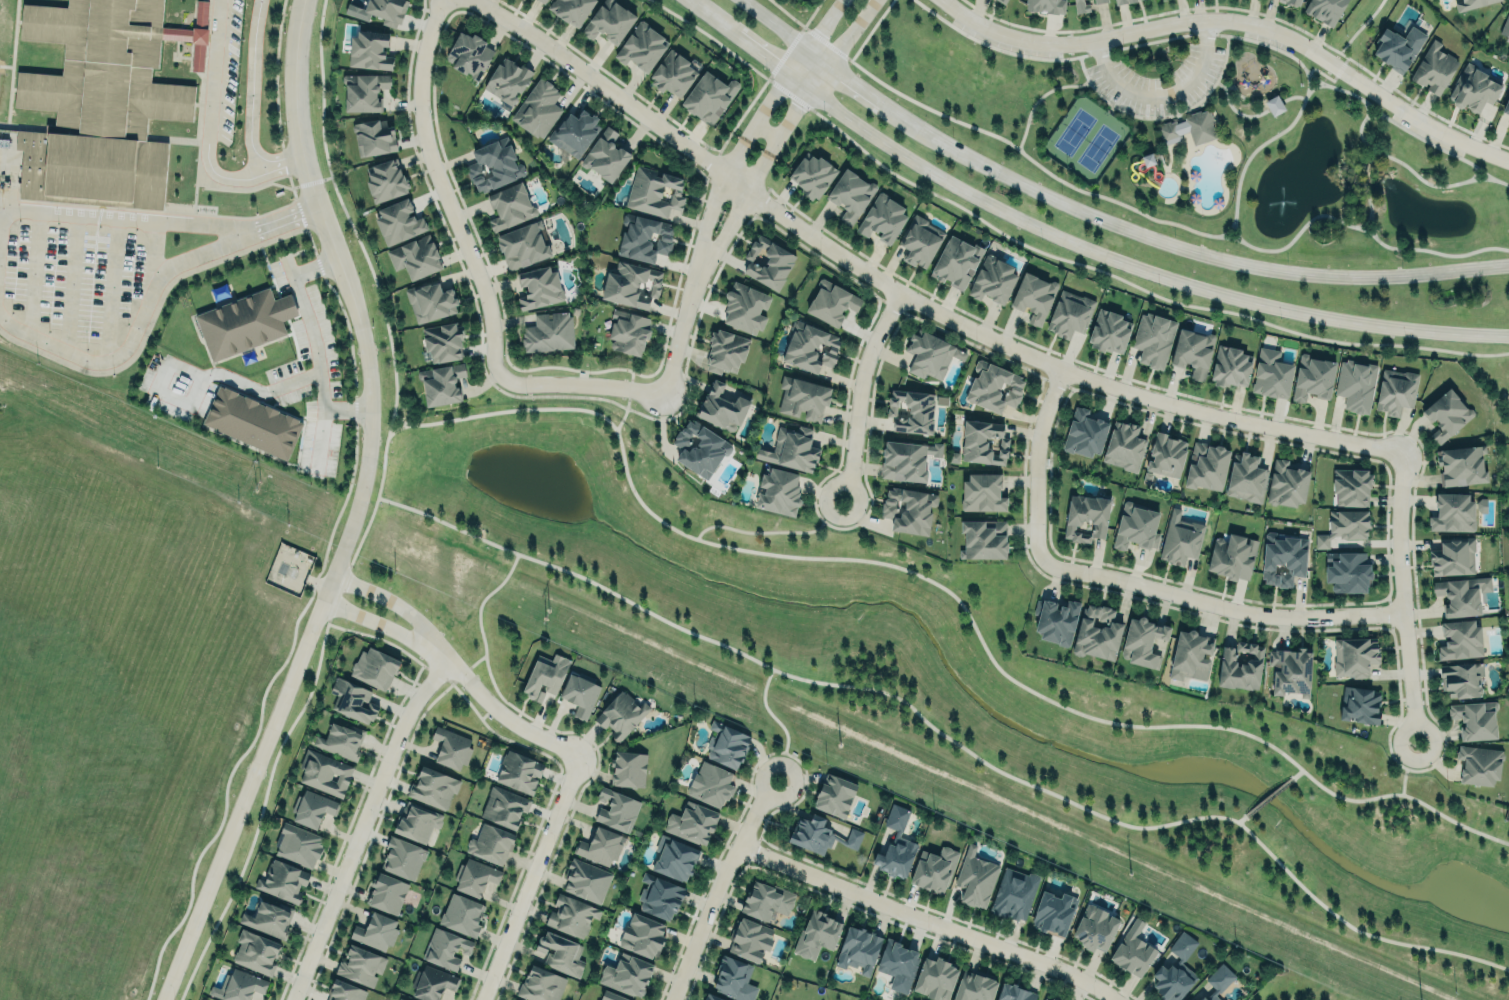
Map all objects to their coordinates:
building: (542, 0)
building: (1002, 1)
building: (1098, 1)
building: (1122, 1)
building: (1293, 1)
road: (695, 3)
building: (1471, 3)
building: (1046, 5)
building: (1081, 6)
building: (571, 10)
building: (1324, 10)
building: (379, 11)
building: (609, 21)
road: (1237, 21)
road: (774, 22)
building: (1505, 26)
road: (871, 29)
road: (1200, 33)
road: (1352, 35)
parking lot: (1268, 39)
parking lot: (1004, 42)
building: (642, 46)
building: (1398, 46)
road: (754, 48)
building: (368, 49)
building: (470, 53)
road: (787, 66)
building: (1434, 67)
building: (672, 72)
road: (1324, 74)
road: (819, 75)
building: (507, 79)
parking lot: (1157, 80)
road: (1308, 84)
building: (1473, 89)
building: (364, 91)
road: (870, 95)
road: (1162, 95)
building: (103, 96)
building: (708, 97)
road: (1038, 98)
building: (1273, 104)
building: (537, 106)
building: (1506, 106)
road: (250, 107)
road: (209, 110)
road: (1253, 114)
road: (1375, 114)
road: (1162, 116)
building: (1508, 125)
building: (1188, 128)
building: (574, 132)
parking lot: (1425, 134)
building: (373, 137)
park: (1084, 137)
road: (1259, 145)
building: (604, 154)
road: (1469, 161)
building: (494, 164)
road: (1405, 164)
water park: (1188, 165)
road: (1362, 170)
road: (1475, 171)
building: (811, 175)
road: (1365, 175)
road: (1490, 176)
building: (385, 180)
building: (654, 191)
building: (850, 193)
road: (715, 197)
fountain: (1281, 205)
building: (509, 206)
road: (736, 209)
road: (1370, 210)
road: (123, 216)
building: (881, 217)
road: (284, 218)
building: (398, 220)
road: (1165, 220)
road: (1371, 221)
road: (1235, 223)
building: (644, 238)
building: (920, 241)
building: (523, 245)
road: (1213, 255)
building: (415, 256)
building: (767, 261)
building: (955, 261)
road: (475, 266)
road: (1139, 267)
building: (993, 279)
building: (630, 283)
building: (538, 286)
road: (905, 294)
building: (1033, 297)
building: (430, 301)
building: (831, 301)
building: (745, 307)
building: (1070, 313)
building: (244, 321)
road: (681, 326)
road: (134, 328)
building: (548, 331)
building: (628, 331)
building: (1109, 331)
road: (312, 339)
building: (1152, 339)
building: (442, 341)
building: (810, 347)
building: (1190, 349)
building: (725, 350)
building: (930, 354)
building: (1229, 367)
building: (1270, 372)
road: (201, 377)
building: (1312, 377)
building: (441, 382)
building: (1355, 385)
building: (993, 386)
road: (860, 391)
building: (1395, 391)
building: (803, 397)
road: (626, 403)
building: (721, 407)
building: (910, 410)
building: (1446, 413)
building: (252, 422)
road: (618, 424)
building: (1085, 432)
road: (387, 435)
road: (319, 438)
building: (983, 442)
building: (1124, 446)
building: (698, 448)
building: (791, 448)
building: (1166, 454)
building: (903, 460)
building: (1460, 464)
building: (1205, 465)
building: (1245, 477)
building: (1285, 483)
building: (1350, 486)
power tower: (256, 487)
building: (778, 491)
building: (982, 492)
building: (908, 509)
road: (355, 511)
road: (831, 511)
building: (1451, 513)
building: (1085, 517)
building: (1347, 523)
building: (1135, 526)
road: (755, 531)
building: (983, 538)
building: (1321, 539)
building: (1180, 540)
building: (1452, 555)
building: (1231, 556)
building: (1282, 558)
building: (1346, 571)
road: (1126, 579)
road: (941, 585)
building: (1461, 594)
road: (1403, 596)
road: (391, 599)
road: (479, 612)
power tower: (546, 615)
building: (1055, 620)
road: (377, 622)
building: (1097, 632)
building: (1459, 640)
building: (1141, 641)
building: (1354, 655)
building: (1189, 656)
building: (1239, 665)
building: (374, 667)
building: (1290, 670)
building: (545, 676)
building: (1460, 678)
building: (579, 694)
park: (954, 698)
building: (352, 700)
building: (1360, 705)
road: (499, 709)
building: (621, 714)
building: (1474, 719)
road: (779, 721)
road: (943, 734)
building: (341, 740)
power tower: (838, 743)
building: (726, 744)
building: (451, 748)
road: (1410, 757)
building: (1478, 764)
building: (627, 768)
building: (519, 771)
building: (325, 773)
road: (1296, 773)
road: (1402, 783)
building: (710, 784)
building: (433, 787)
building: (834, 795)
road: (1268, 796)
building: (504, 806)
building: (311, 807)
building: (615, 810)
road: (1242, 818)
building: (416, 822)
building: (692, 823)
road: (361, 824)
building: (820, 835)
building: (490, 843)
building: (298, 845)
building: (895, 845)
building: (599, 846)
building: (403, 858)
building: (674, 858)
building: (932, 868)
power tower: (1129, 872)
building: (476, 877)
road: (530, 877)
building: (975, 878)
building: (586, 879)
building: (282, 880)
road: (716, 886)
building: (385, 892)
building: (1013, 894)
building: (659, 896)
building: (766, 901)
building: (1053, 913)
building: (462, 914)
building: (570, 915)
building: (268, 918)
road: (928, 920)
building: (1095, 927)
building: (375, 931)
building: (815, 934)
building: (641, 935)
building: (749, 939)
building: (446, 948)
building: (857, 949)
building: (1133, 949)
building: (255, 951)
building: (560, 952)
building: (897, 964)
building: (360, 965)
building: (626, 974)
building: (733, 978)
building: (935, 978)
building: (1165, 980)
building: (1218, 980)
building: (432, 982)
building: (540, 984)
building: (238, 986)
building: (974, 987)
building: (344, 991)
building: (1014, 993)
building: (610, 996)
building: (711, 997)
building: (1201, 998)
building: (400, 999)
building: (514, 999)
building: (1044, 999)
building: (1052, 999)
building: (1186, 999)

